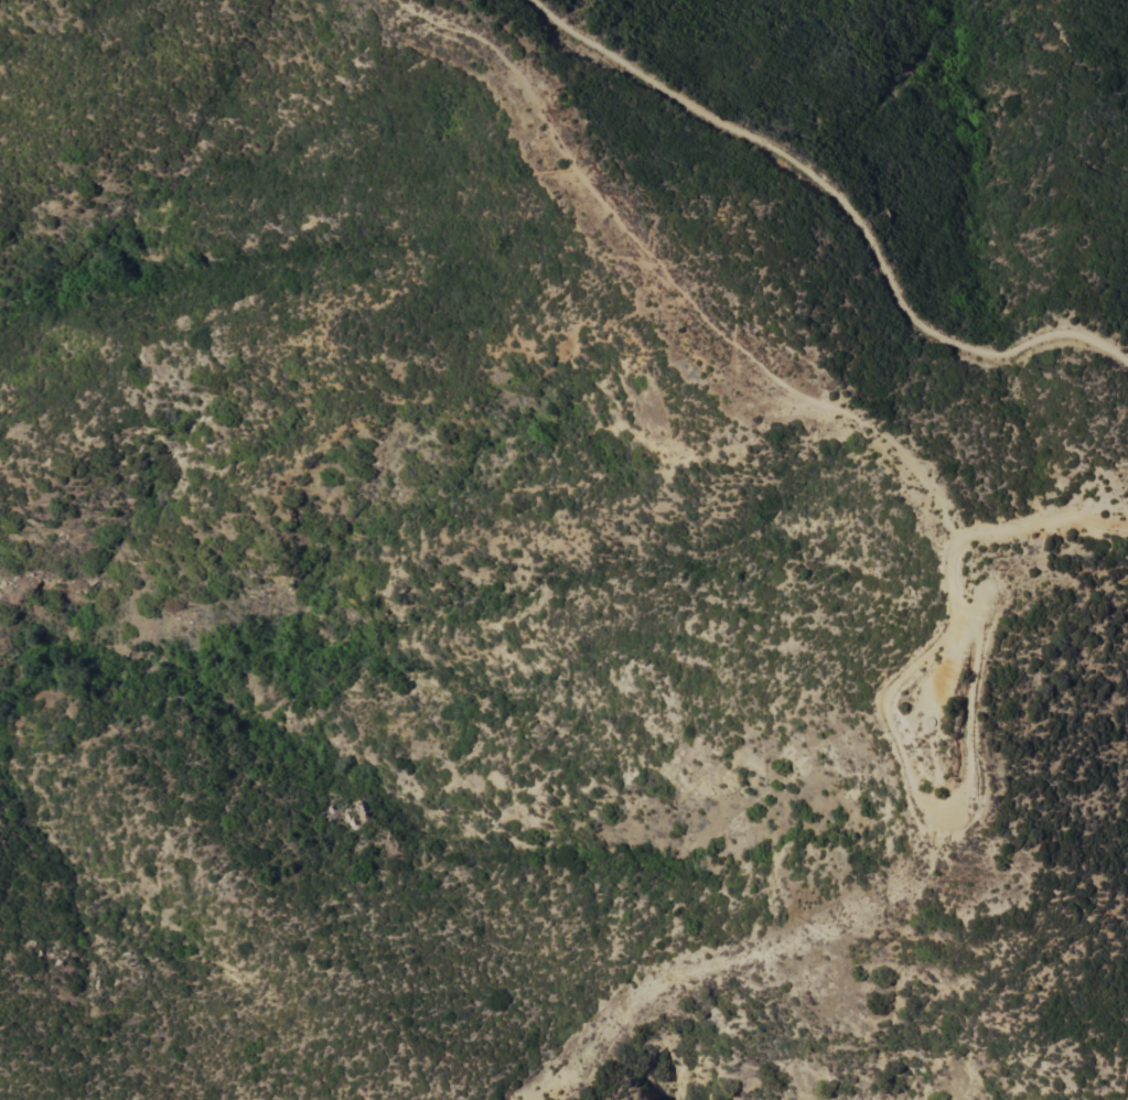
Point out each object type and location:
road: (842, 195)
road: (673, 280)
road: (1010, 527)
building: (933, 722)
storage tank: (933, 722)
road: (942, 816)

